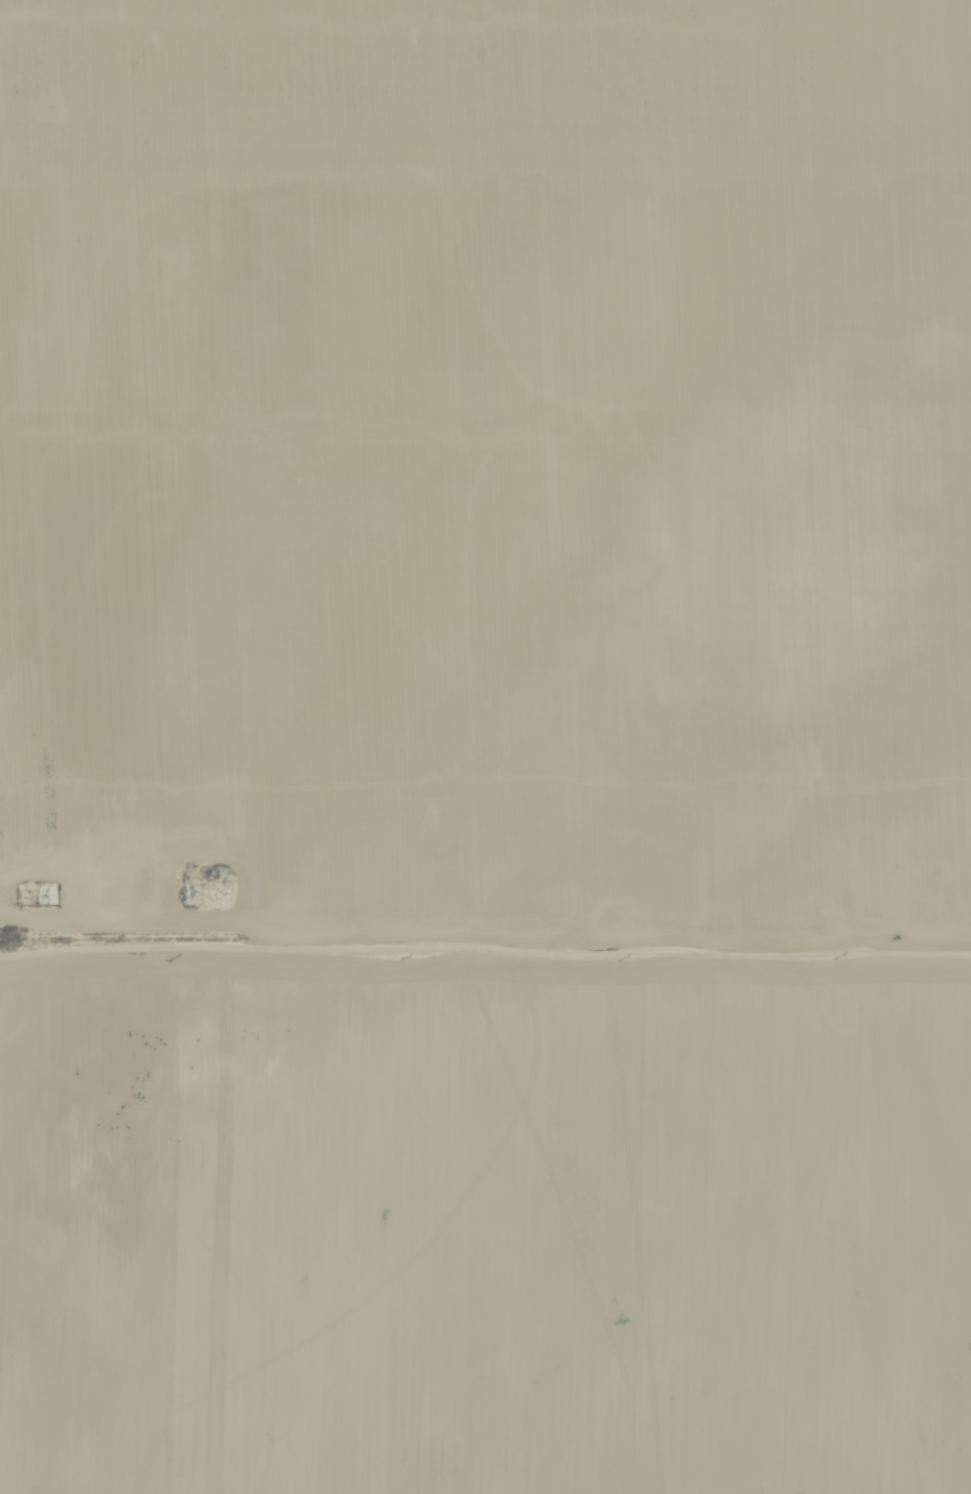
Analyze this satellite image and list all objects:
road: (485, 187)
road: (485, 950)

